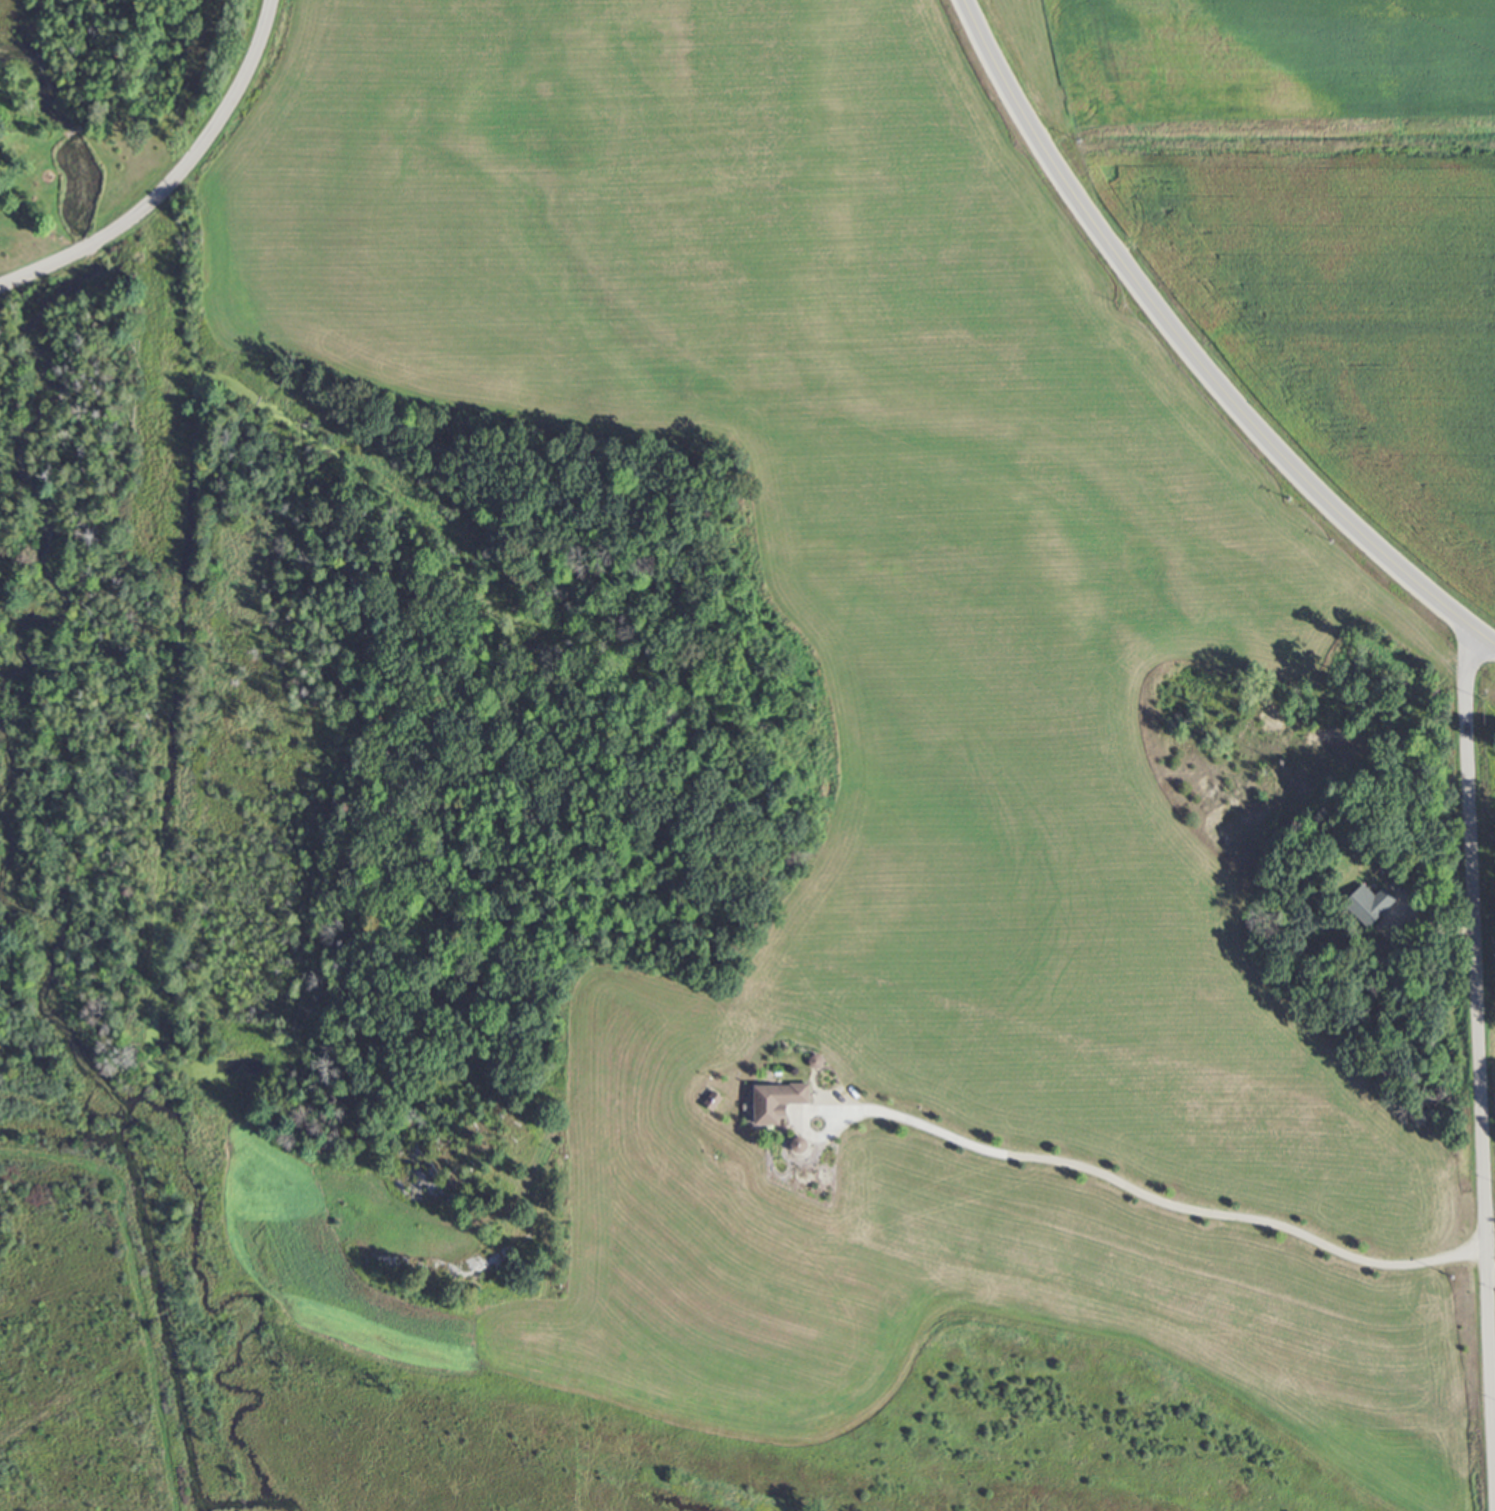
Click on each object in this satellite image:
road: (177, 182)
road: (1194, 352)
building: (1368, 902)
road: (1480, 1073)
building: (710, 1100)
building: (775, 1101)
road: (1102, 1174)
road: (1491, 1274)

